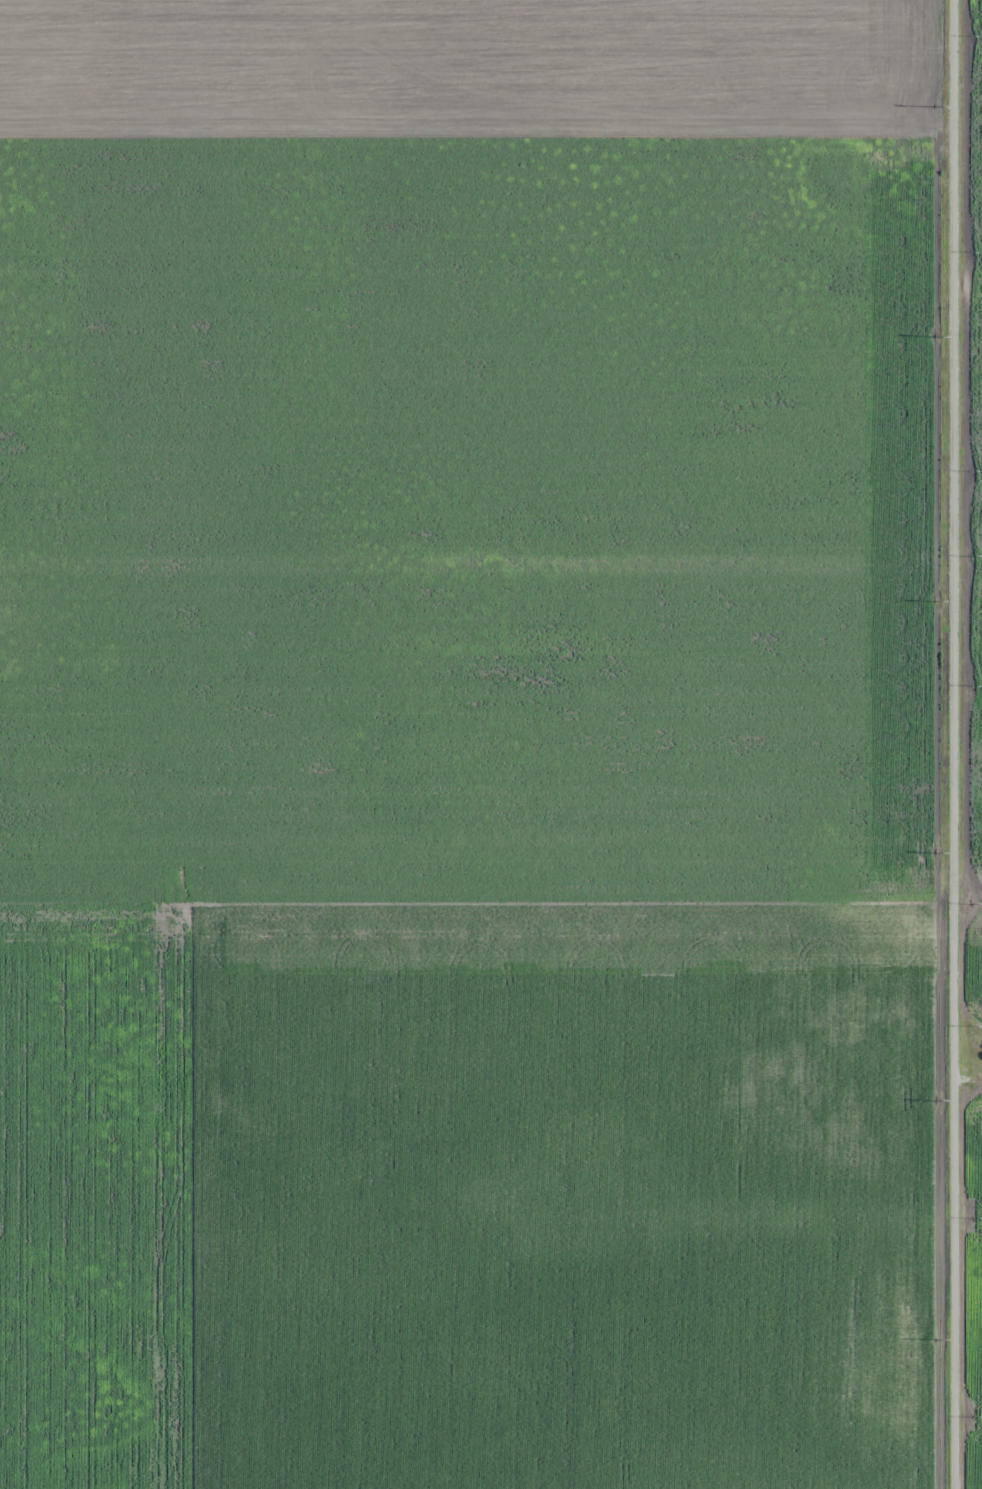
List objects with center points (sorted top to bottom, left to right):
power tower: (937, 102)
power tower: (939, 331)
crop: (974, 505)
power tower: (938, 598)
road: (952, 744)
power tower: (937, 851)
power tower: (938, 1096)
crop: (973, 1292)
power tower: (938, 1339)

